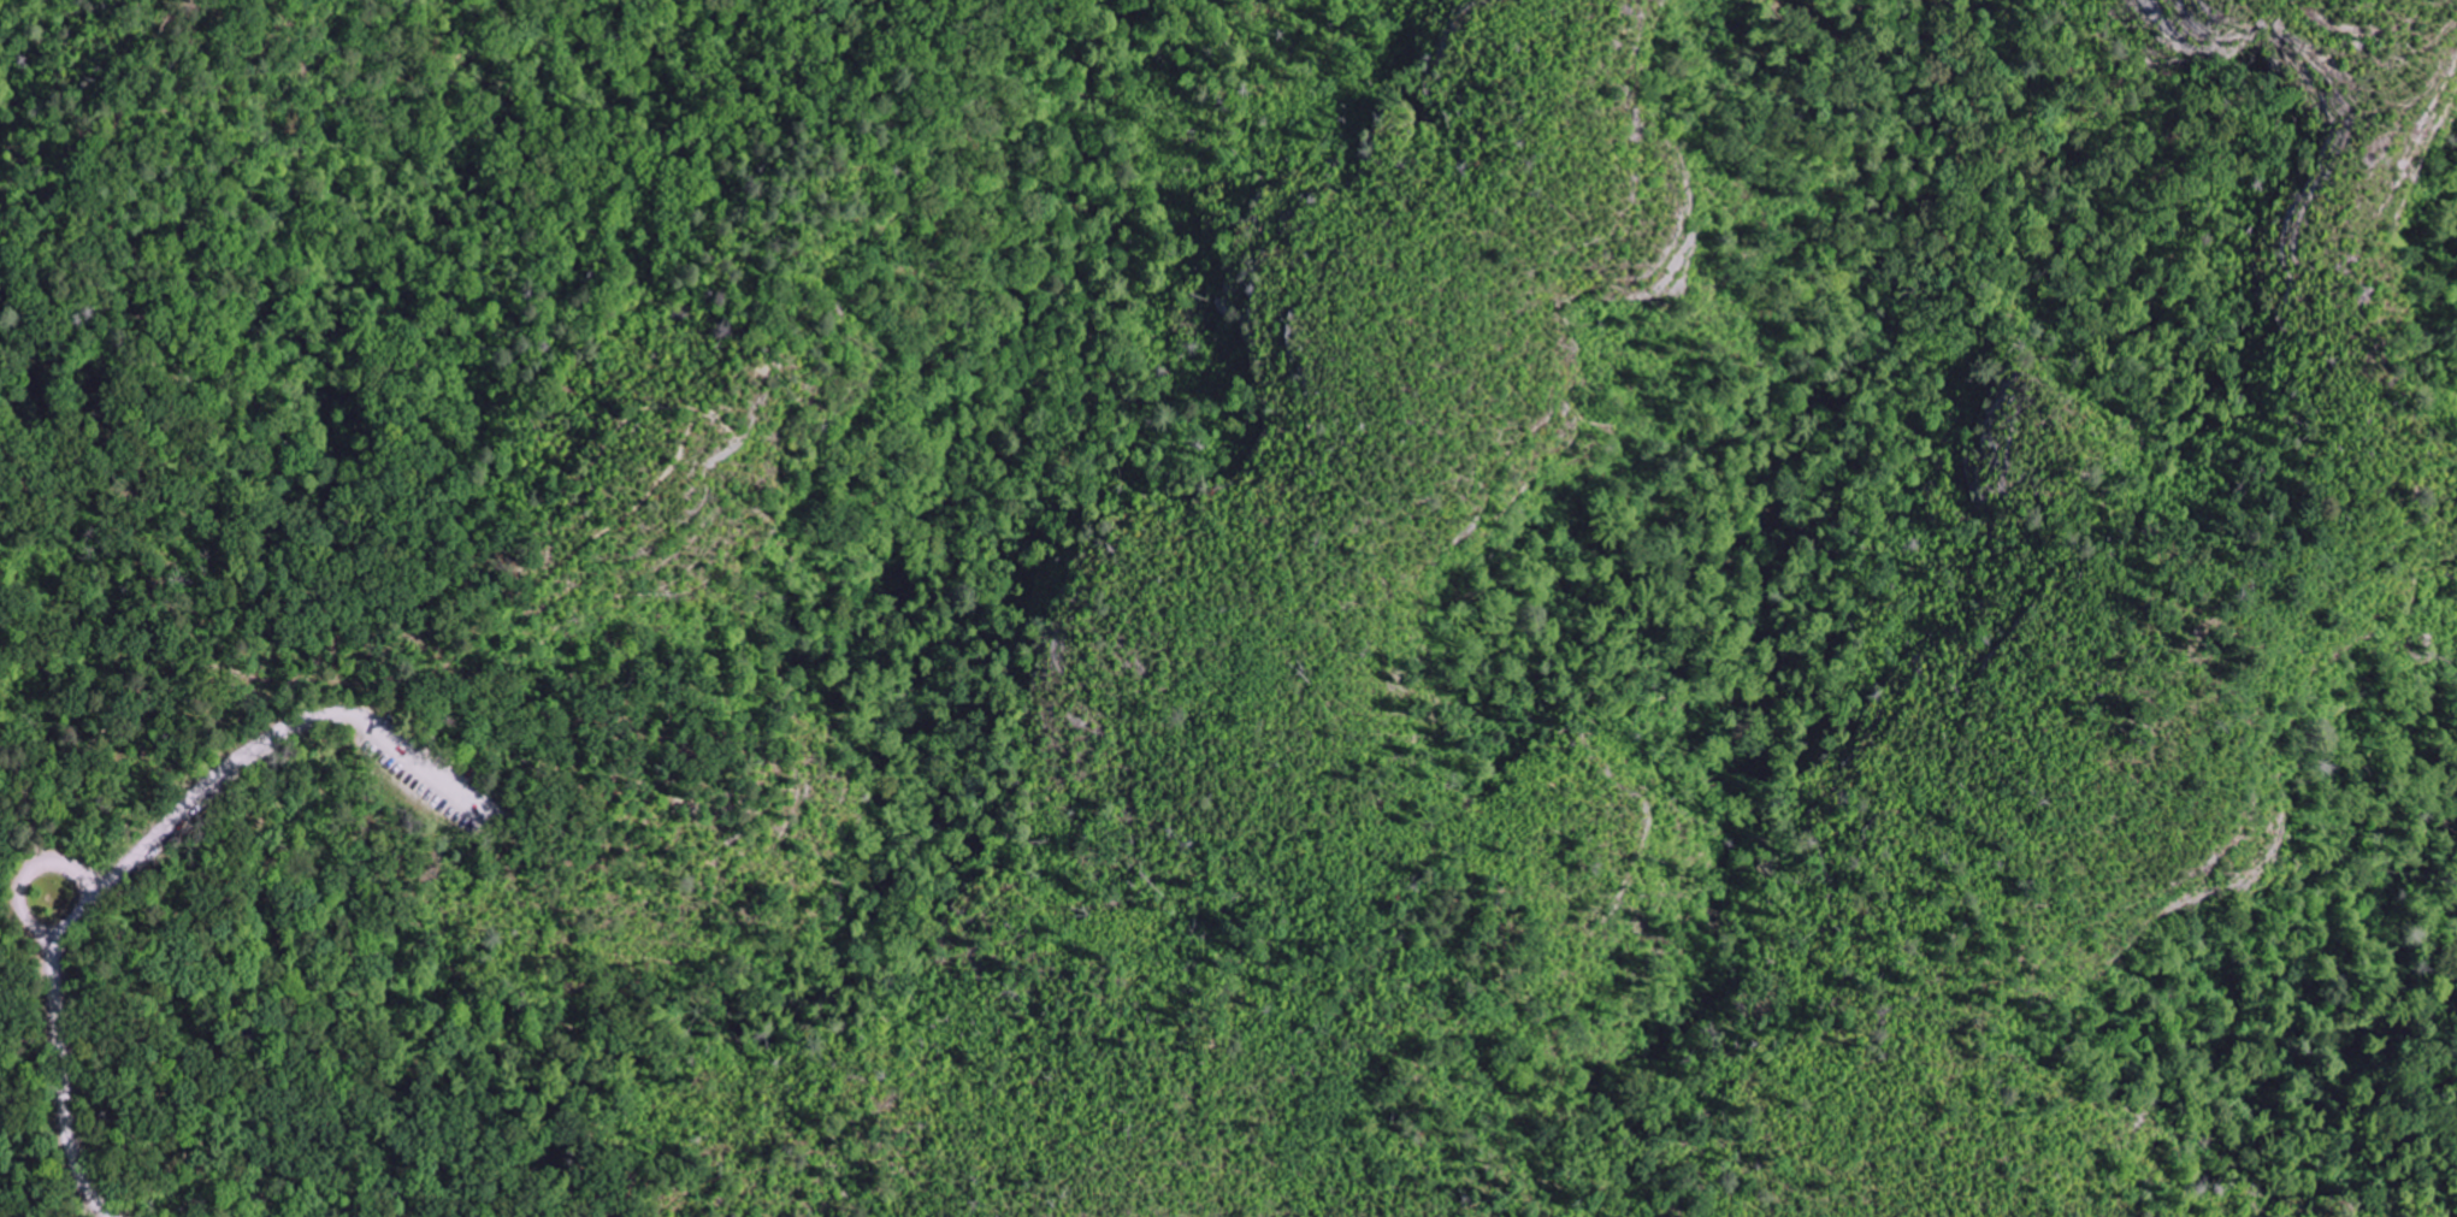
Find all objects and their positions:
road: (400, 583)
road: (181, 673)
parking lot: (432, 773)
road: (31, 793)
road: (136, 859)
road: (82, 887)
road: (26, 909)

